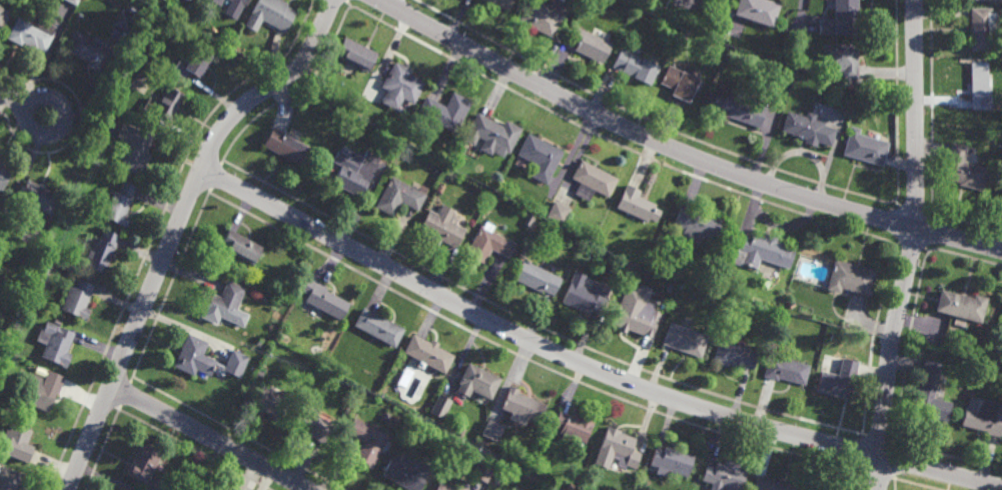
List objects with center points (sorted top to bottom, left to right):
building: (186, 0)
building: (981, 0)
building: (74, 2)
building: (151, 2)
building: (237, 2)
road: (389, 2)
building: (631, 2)
building: (501, 3)
building: (638, 7)
building: (758, 10)
building: (271, 14)
building: (4, 17)
building: (539, 18)
building: (841, 18)
building: (125, 20)
building: (983, 28)
building: (33, 33)
building: (681, 35)
building: (589, 45)
building: (254, 50)
building: (91, 51)
building: (356, 55)
building: (840, 59)
building: (198, 62)
building: (634, 67)
building: (132, 72)
building: (681, 82)
building: (400, 86)
building: (819, 86)
building: (980, 86)
road: (13, 99)
building: (165, 106)
building: (738, 108)
building: (358, 111)
building: (445, 111)
building: (858, 112)
road: (25, 116)
building: (809, 127)
building: (492, 135)
building: (285, 146)
building: (135, 149)
building: (867, 149)
road: (679, 151)
building: (540, 157)
building: (0, 163)
building: (964, 170)
building: (356, 174)
building: (4, 177)
building: (592, 180)
building: (440, 188)
building: (400, 196)
building: (37, 203)
building: (120, 205)
building: (636, 205)
building: (557, 213)
building: (696, 224)
road: (178, 227)
building: (526, 227)
building: (442, 228)
building: (587, 232)
building: (488, 246)
road: (912, 246)
building: (240, 247)
building: (762, 250)
building: (102, 253)
building: (31, 262)
building: (41, 275)
building: (850, 278)
building: (536, 279)
building: (4, 289)
building: (584, 298)
building: (78, 301)
building: (323, 301)
building: (222, 303)
building: (791, 305)
building: (961, 307)
building: (634, 321)
building: (1001, 327)
building: (379, 328)
building: (918, 336)
building: (684, 340)
building: (56, 341)
building: (427, 354)
building: (733, 355)
building: (195, 356)
road: (587, 366)
building: (786, 368)
building: (258, 373)
building: (838, 379)
building: (478, 380)
building: (39, 390)
building: (930, 392)
building: (268, 401)
building: (522, 404)
building: (441, 406)
building: (983, 415)
building: (572, 425)
building: (314, 426)
building: (492, 430)
road: (209, 437)
building: (17, 441)
building: (367, 442)
building: (480, 443)
building: (619, 446)
building: (441, 448)
building: (670, 460)
building: (144, 461)
building: (406, 471)
building: (483, 472)
building: (723, 475)
building: (9, 478)
building: (771, 484)
building: (444, 486)
building: (812, 488)

